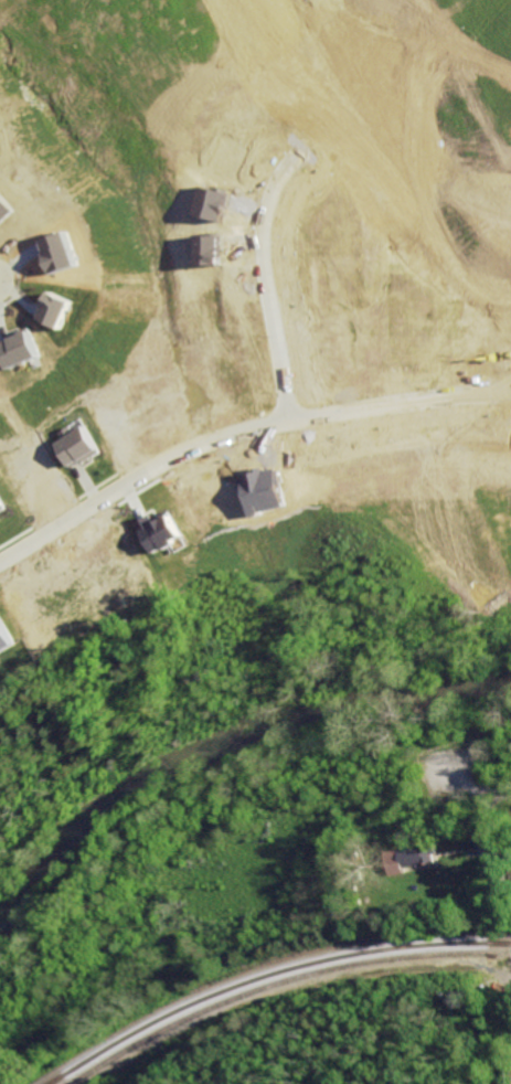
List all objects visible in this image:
road: (267, 283)
road: (220, 442)
building: (73, 443)
building: (0, 509)
road: (76, 510)
building: (160, 531)
building: (3, 638)
road: (492, 789)
road: (488, 833)
building: (417, 854)
railway: (272, 976)
railway: (281, 984)

